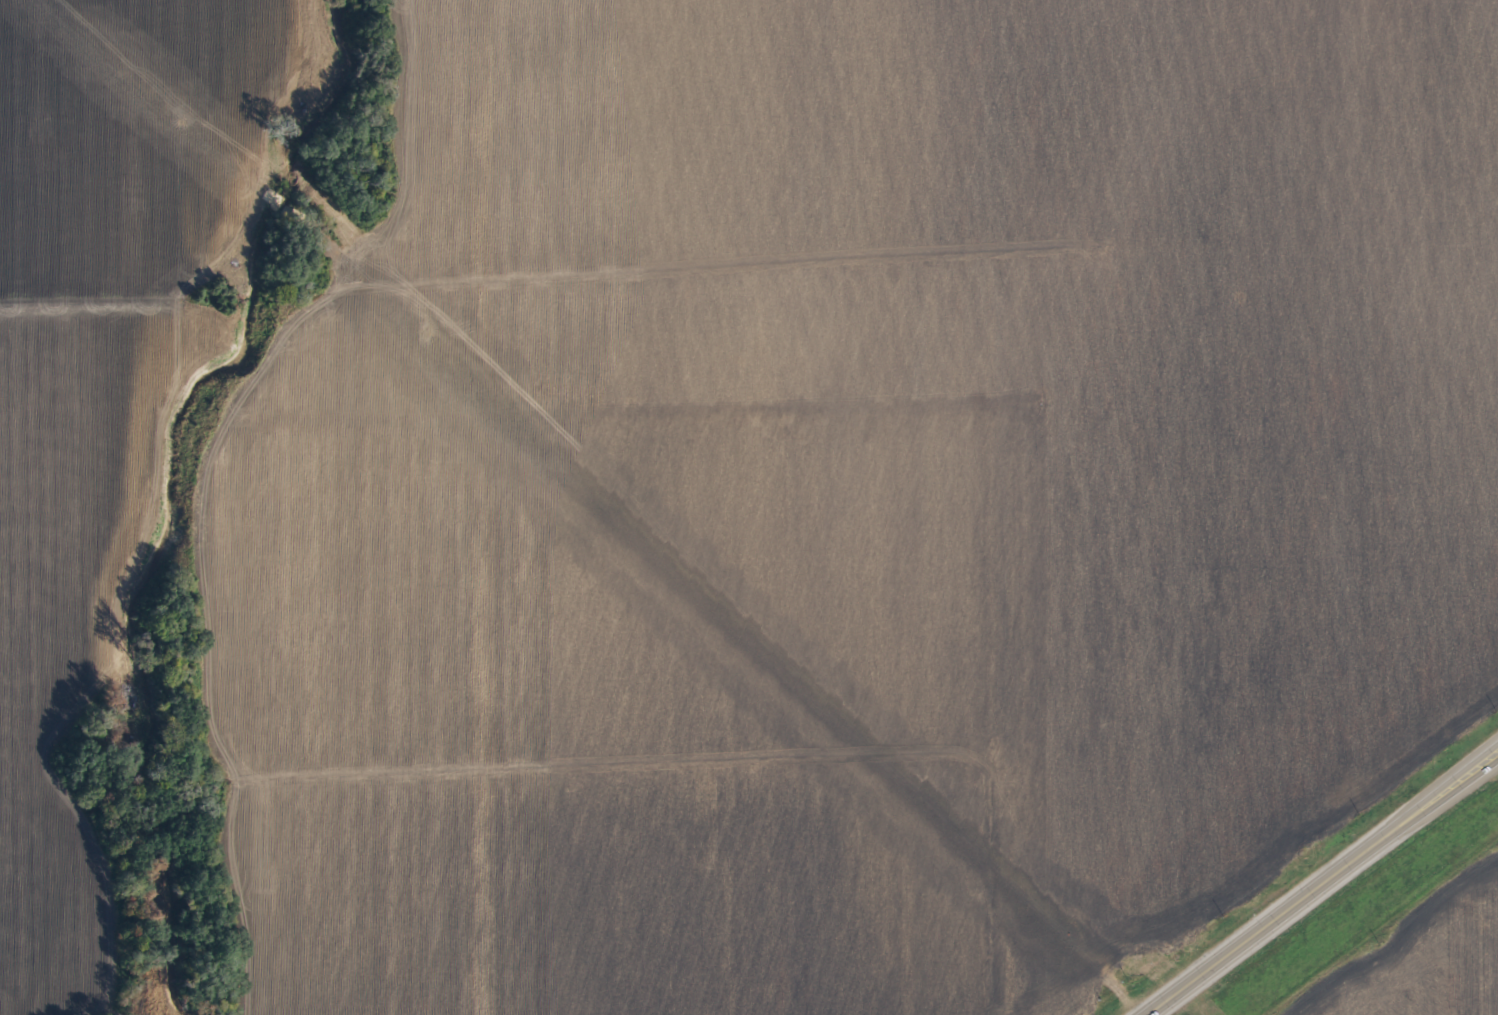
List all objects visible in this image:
road: (1309, 881)

